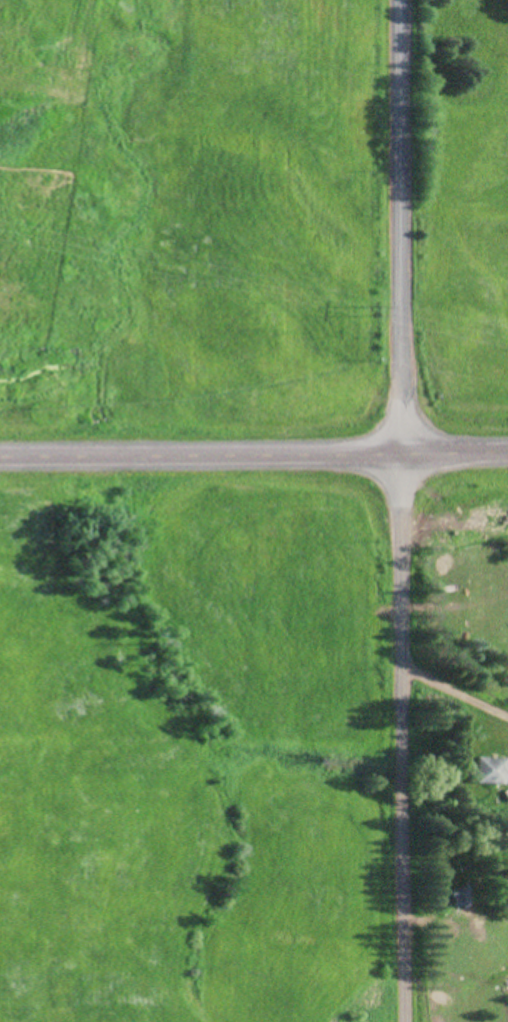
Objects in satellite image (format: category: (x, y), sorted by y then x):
crop: (193, 220)
road: (405, 224)
power tower: (370, 306)
road: (253, 450)
road: (405, 735)
building: (484, 771)
building: (455, 897)
building: (24, 972)

